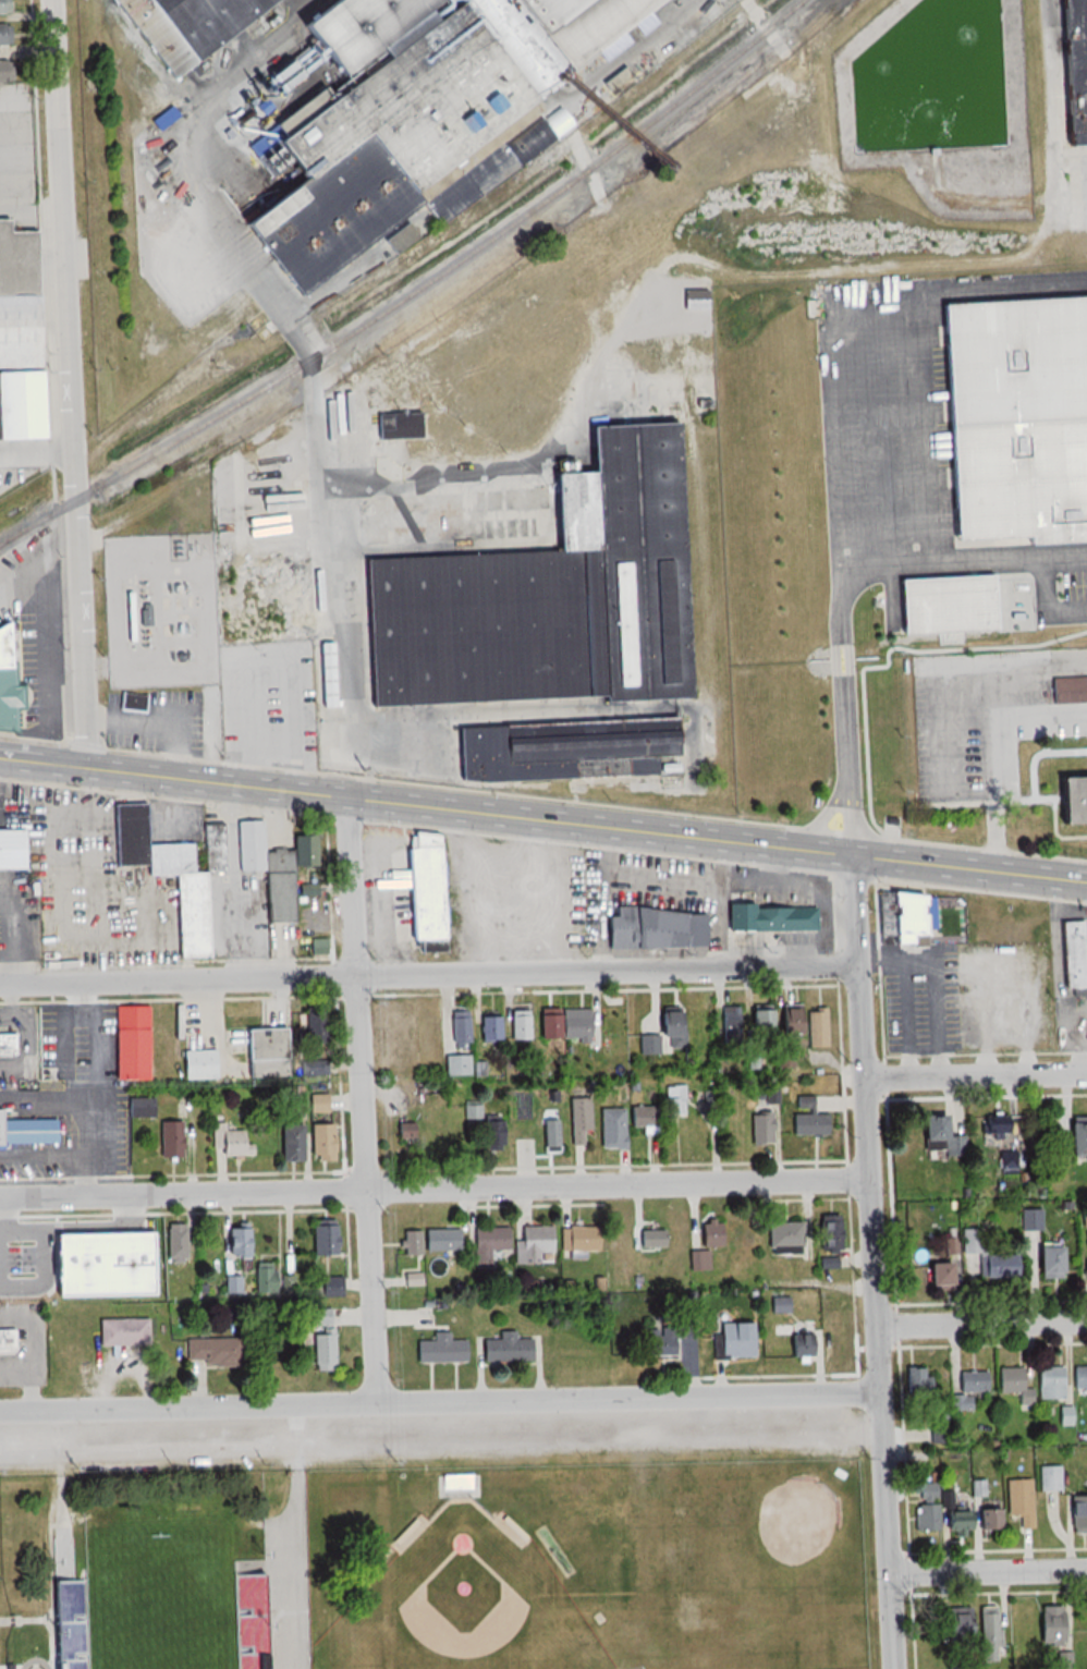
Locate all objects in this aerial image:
building: (8, 7)
road: (663, 28)
building: (210, 31)
building: (9, 36)
building: (560, 36)
building: (9, 71)
railway: (422, 299)
building: (19, 336)
road: (68, 381)
building: (1019, 422)
building: (398, 424)
building: (953, 605)
building: (553, 606)
building: (134, 610)
road: (46, 612)
building: (326, 659)
building: (9, 681)
building: (1068, 689)
building: (131, 702)
road: (996, 748)
building: (1073, 783)
road: (542, 818)
road: (818, 827)
building: (13, 849)
building: (272, 867)
building: (174, 873)
building: (422, 889)
building: (769, 917)
building: (902, 919)
building: (652, 929)
building: (1071, 954)
road: (428, 976)
road: (859, 999)
building: (730, 1020)
building: (787, 1021)
building: (759, 1022)
building: (546, 1023)
building: (573, 1023)
building: (518, 1024)
building: (313, 1027)
building: (815, 1027)
building: (459, 1028)
building: (488, 1028)
building: (665, 1035)
building: (8, 1043)
building: (130, 1043)
building: (265, 1044)
building: (197, 1064)
building: (455, 1064)
road: (976, 1075)
road: (364, 1098)
building: (472, 1110)
building: (657, 1110)
building: (712, 1113)
building: (807, 1118)
building: (577, 1119)
building: (610, 1128)
building: (759, 1128)
building: (997, 1129)
building: (27, 1130)
building: (404, 1131)
building: (936, 1133)
building: (489, 1134)
building: (549, 1136)
building: (1075, 1137)
building: (169, 1140)
building: (230, 1142)
building: (319, 1142)
building: (288, 1143)
building: (1006, 1157)
road: (435, 1187)
building: (827, 1232)
building: (709, 1233)
building: (783, 1236)
building: (322, 1238)
building: (651, 1238)
building: (237, 1239)
building: (577, 1239)
building: (440, 1241)
building: (178, 1242)
building: (411, 1242)
building: (487, 1243)
building: (532, 1243)
building: (1039, 1248)
building: (988, 1257)
building: (698, 1259)
building: (1085, 1259)
building: (107, 1260)
building: (935, 1274)
building: (262, 1277)
building: (330, 1287)
building: (779, 1305)
road: (981, 1323)
building: (122, 1332)
building: (665, 1335)
building: (321, 1339)
building: (734, 1340)
building: (8, 1341)
building: (795, 1342)
building: (505, 1349)
building: (441, 1350)
building: (212, 1352)
building: (1079, 1377)
building: (1050, 1382)
building: (1014, 1385)
building: (968, 1389)
road: (440, 1401)
building: (1048, 1478)
building: (455, 1482)
building: (1018, 1501)
building: (1077, 1513)
building: (939, 1518)
building: (985, 1519)
road: (887, 1531)
road: (295, 1536)
park: (745, 1563)
road: (988, 1571)
park: (460, 1605)
building: (248, 1621)
building: (956, 1623)
building: (68, 1624)
building: (1048, 1627)
building: (988, 1633)
building: (1062, 1660)

